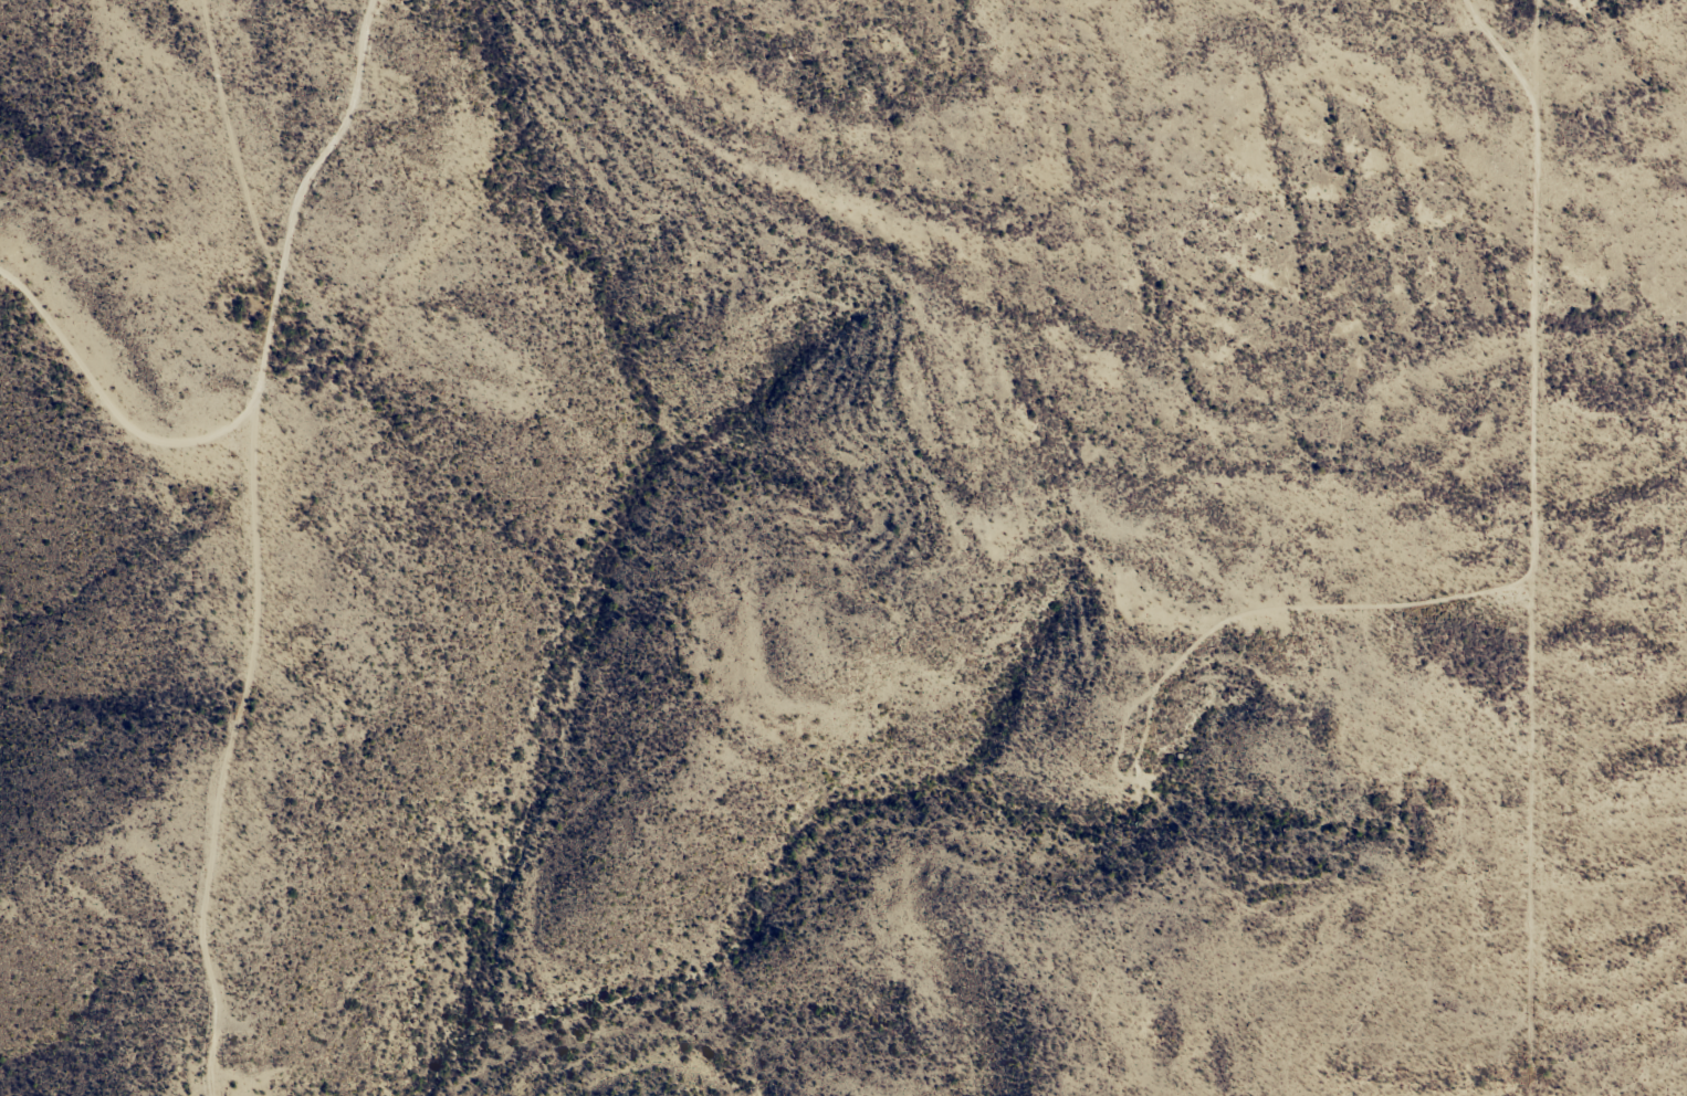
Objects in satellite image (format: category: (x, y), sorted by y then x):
road: (359, 128)
road: (262, 547)

